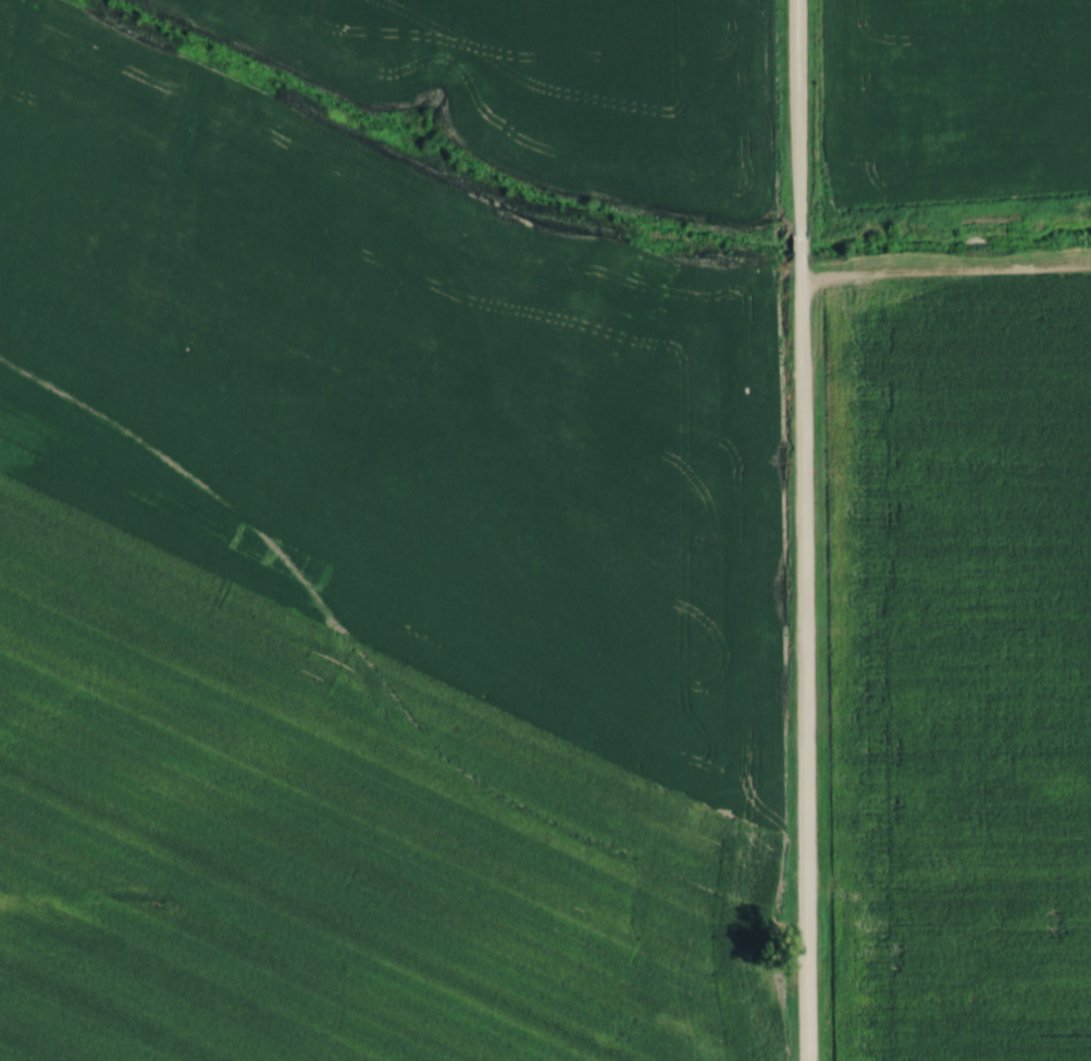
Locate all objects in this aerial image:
road: (805, 530)

